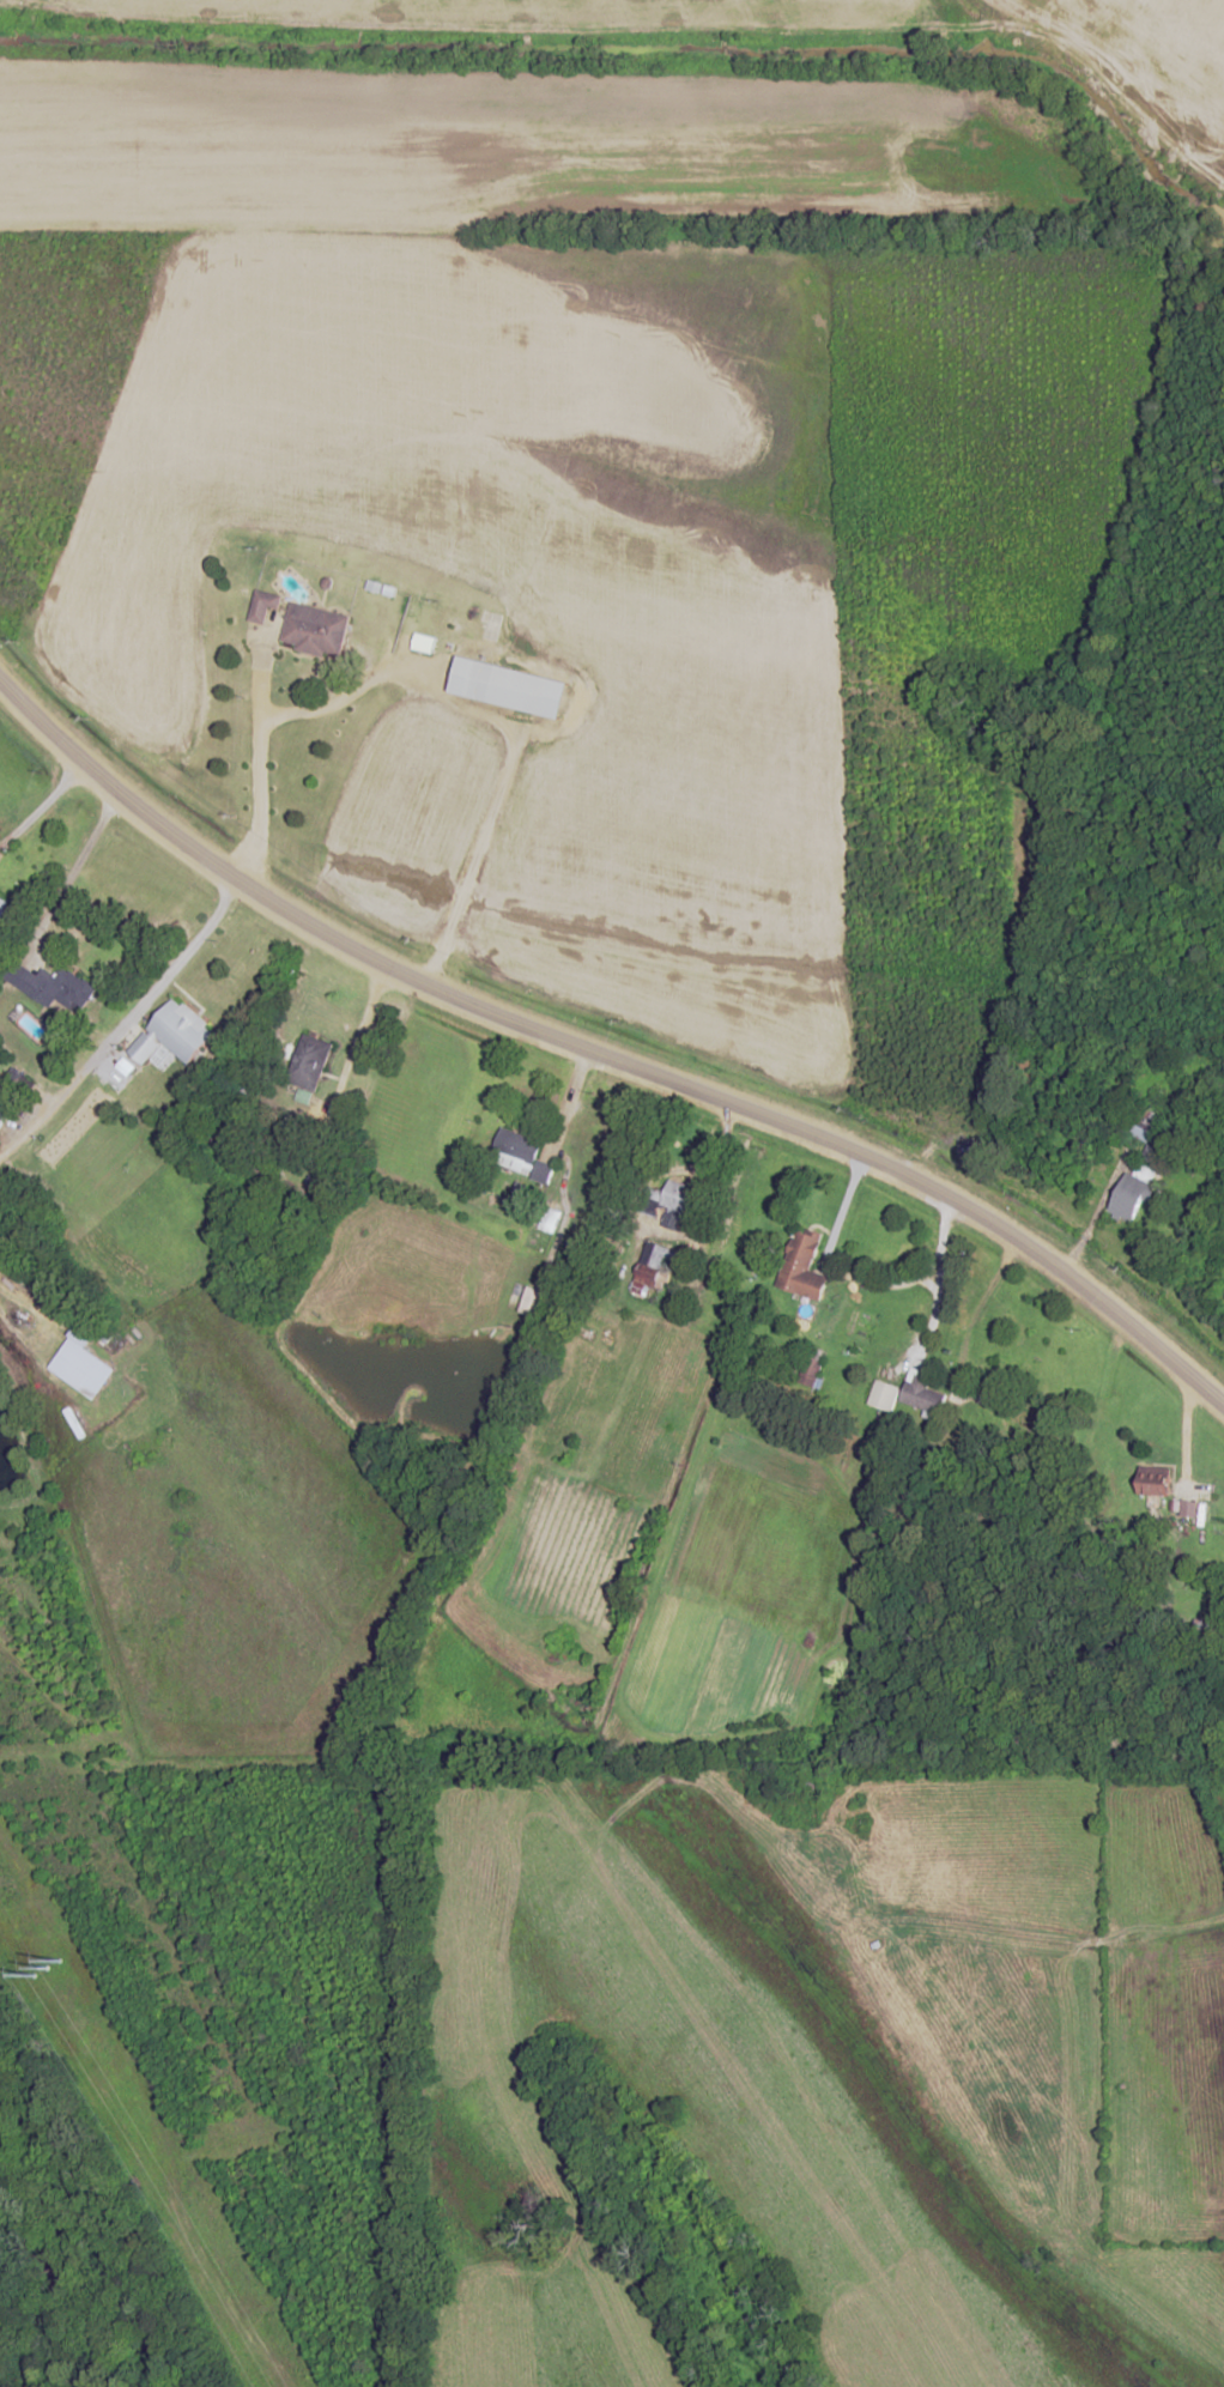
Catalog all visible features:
building: (265, 605)
building: (317, 629)
road: (389, 672)
building: (511, 685)
road: (259, 761)
road: (40, 802)
road: (72, 866)
building: (4, 909)
building: (53, 986)
building: (174, 1032)
road: (601, 1056)
building: (310, 1061)
building: (4, 1107)
building: (1137, 1128)
building: (525, 1155)
building: (1133, 1193)
building: (671, 1200)
building: (653, 1262)
building: (804, 1265)
building: (75, 1343)
building: (922, 1392)
building: (884, 1394)
building: (1022, 1414)
building: (1156, 1480)
building: (1210, 1626)
building: (813, 1792)

